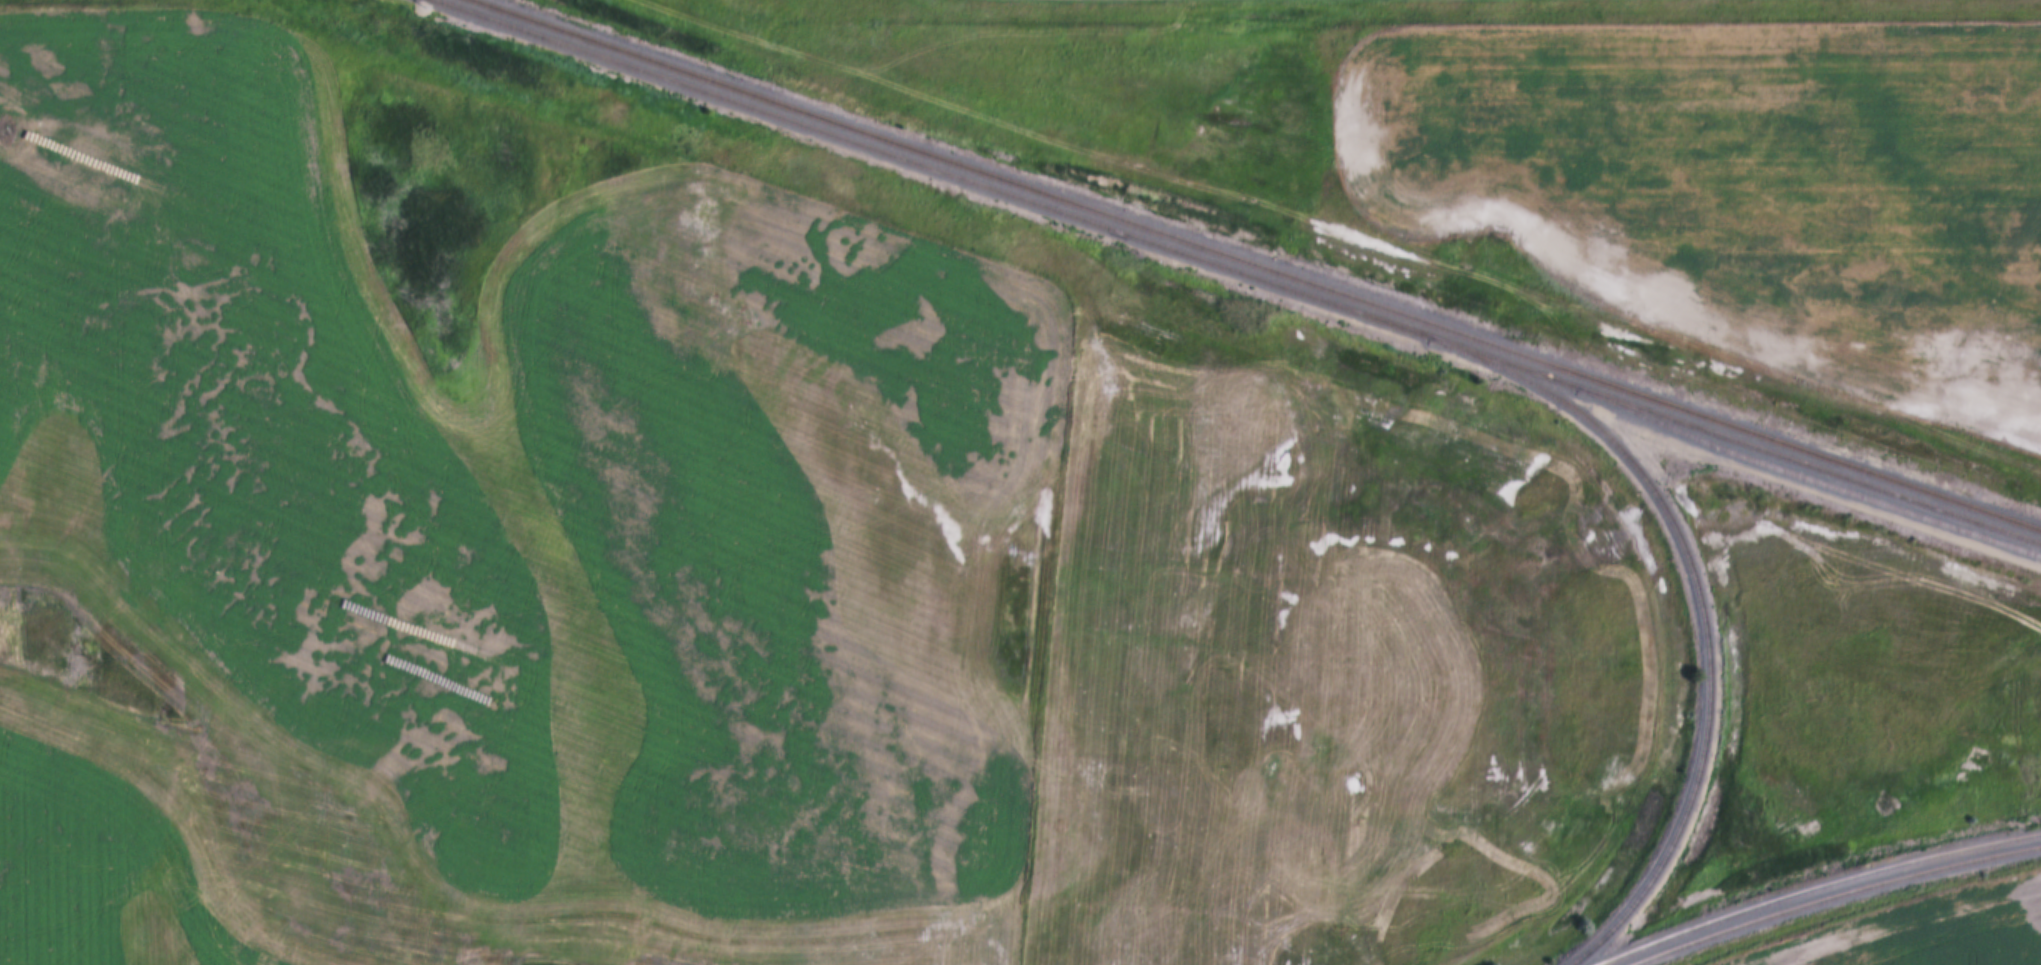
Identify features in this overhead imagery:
railway: (1256, 266)
railway: (1233, 273)
railway: (1697, 609)
railway: (1818, 888)

